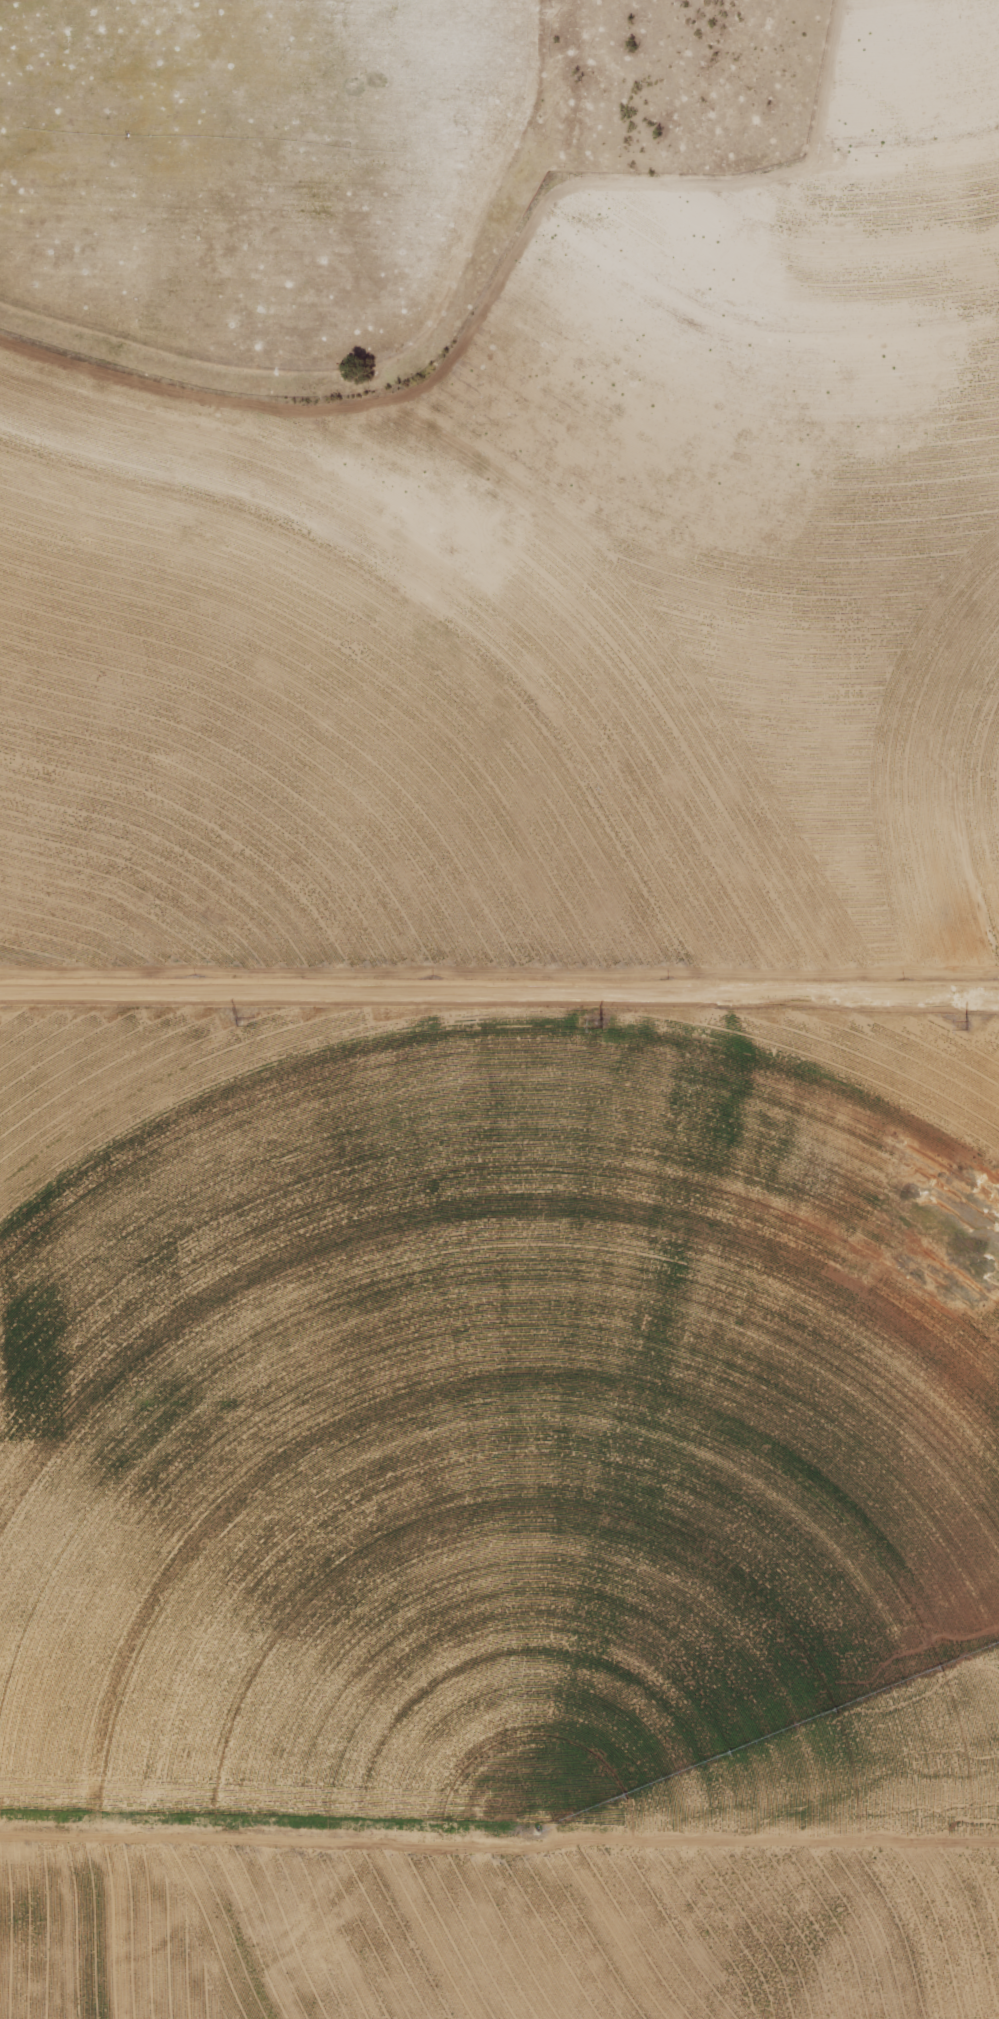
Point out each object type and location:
road: (499, 991)
power tower: (231, 1018)
power tower: (964, 1028)
power tower: (599, 1029)

